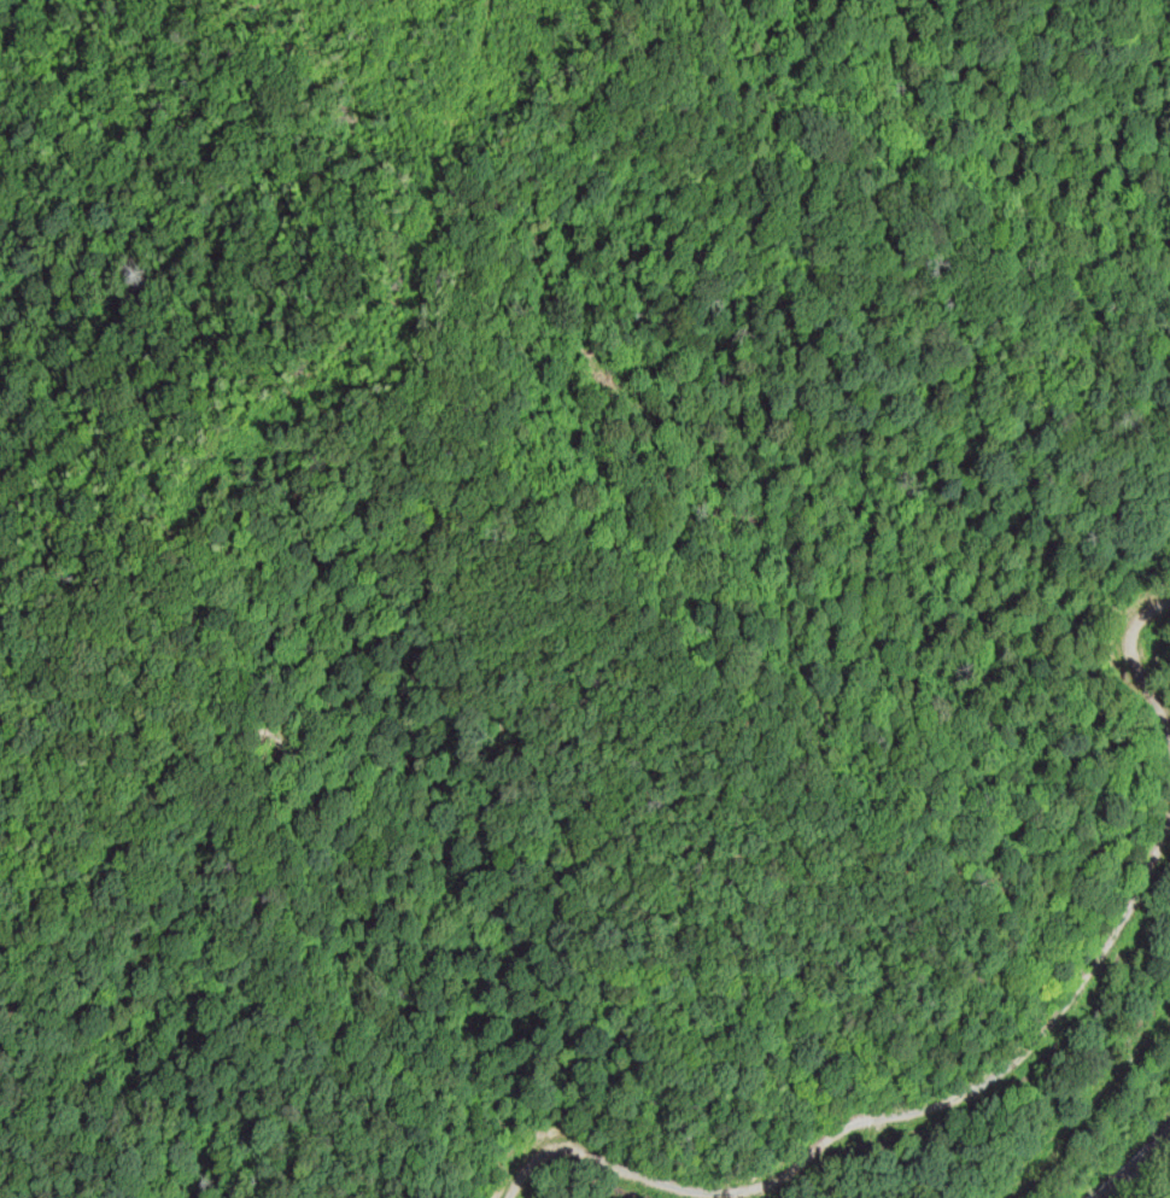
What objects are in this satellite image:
road: (1139, 666)
road: (888, 1115)
road: (1143, 1171)

